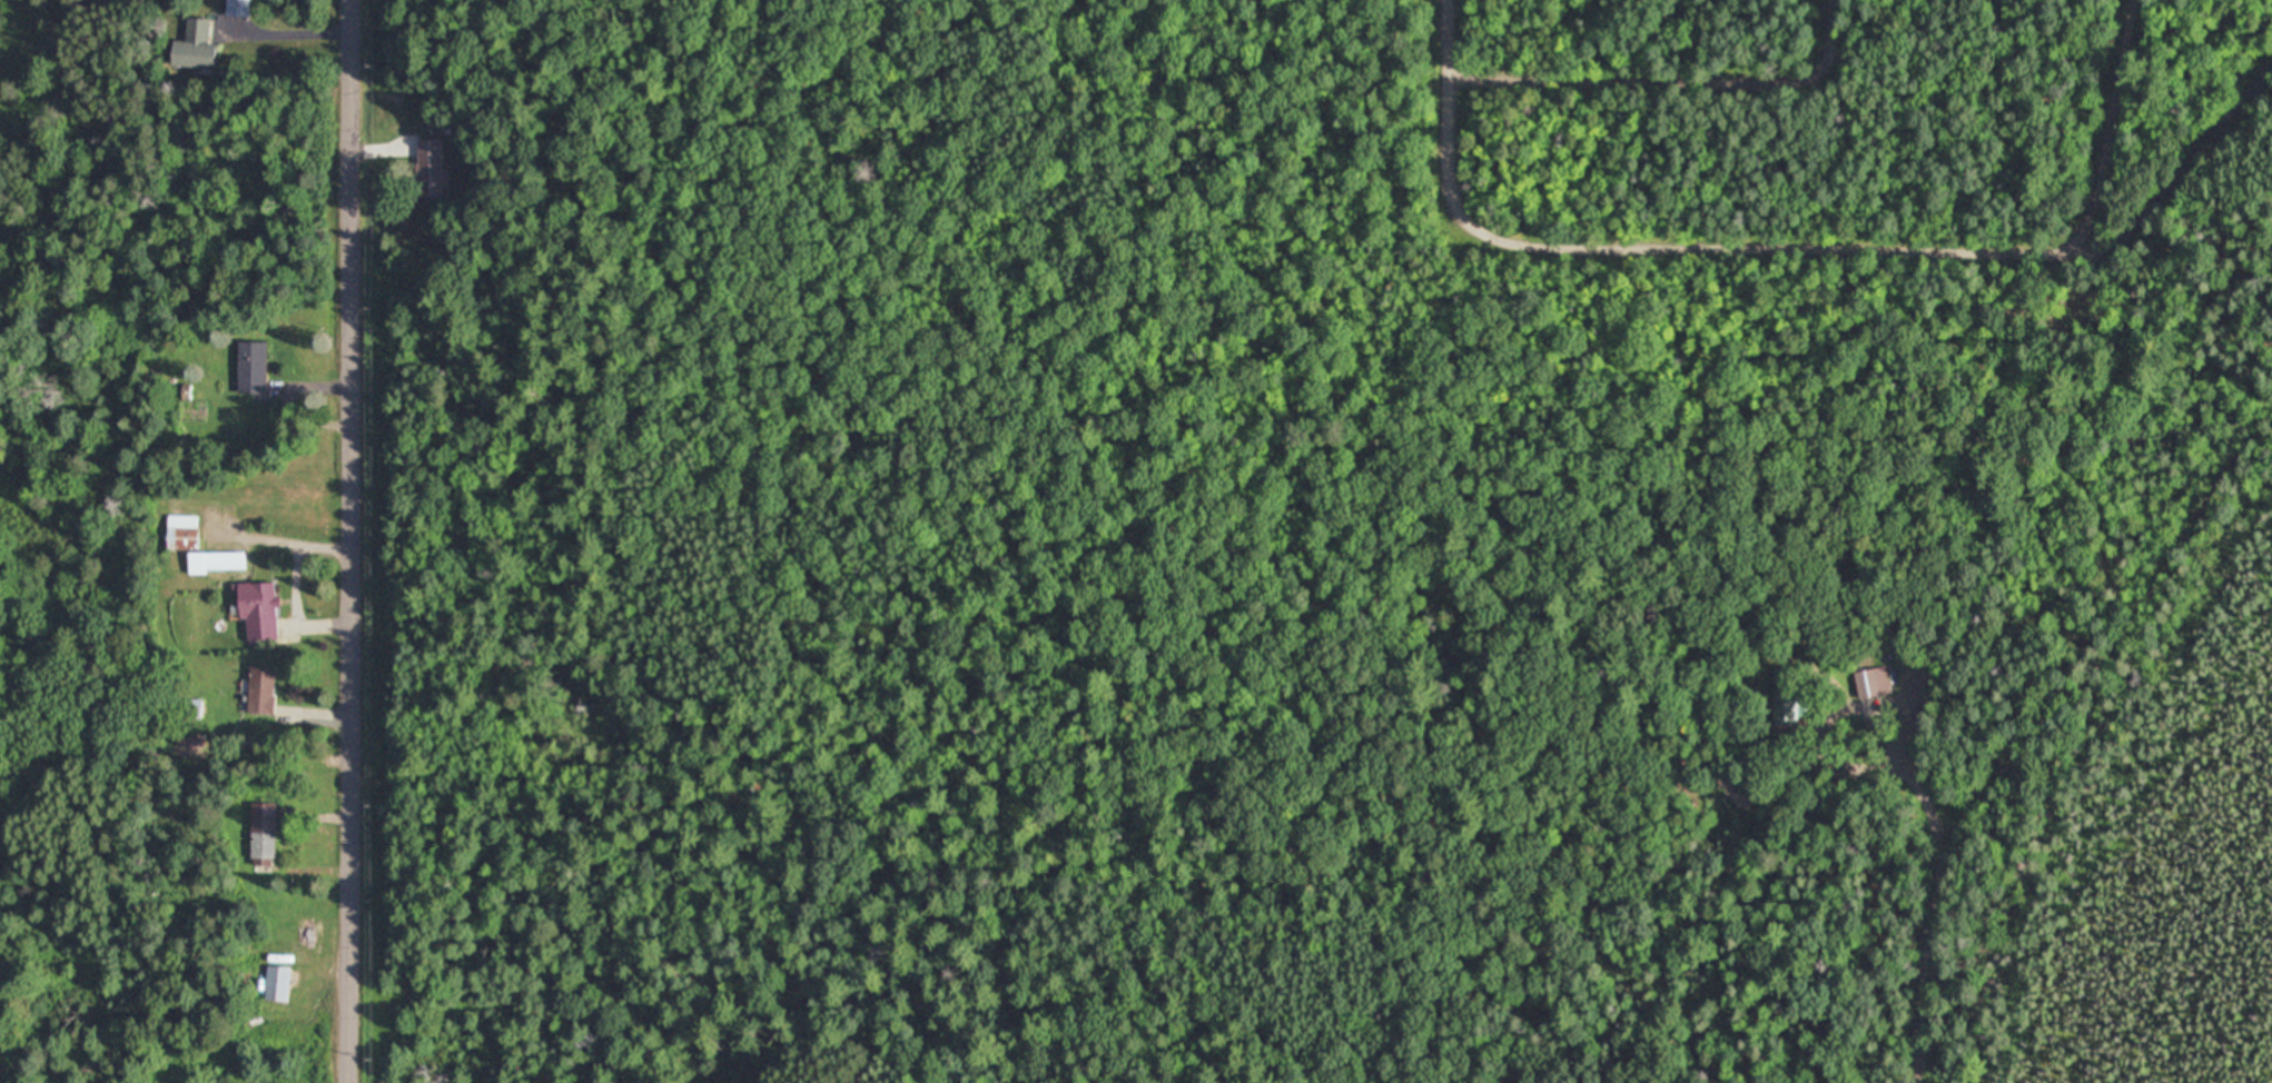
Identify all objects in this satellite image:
building: (237, 8)
building: (194, 46)
road: (1659, 56)
building: (429, 169)
road: (1775, 239)
building: (251, 366)
building: (181, 533)
road: (353, 541)
building: (256, 610)
building: (260, 689)
building: (1873, 692)
building: (1788, 696)
building: (263, 834)
building: (276, 983)

